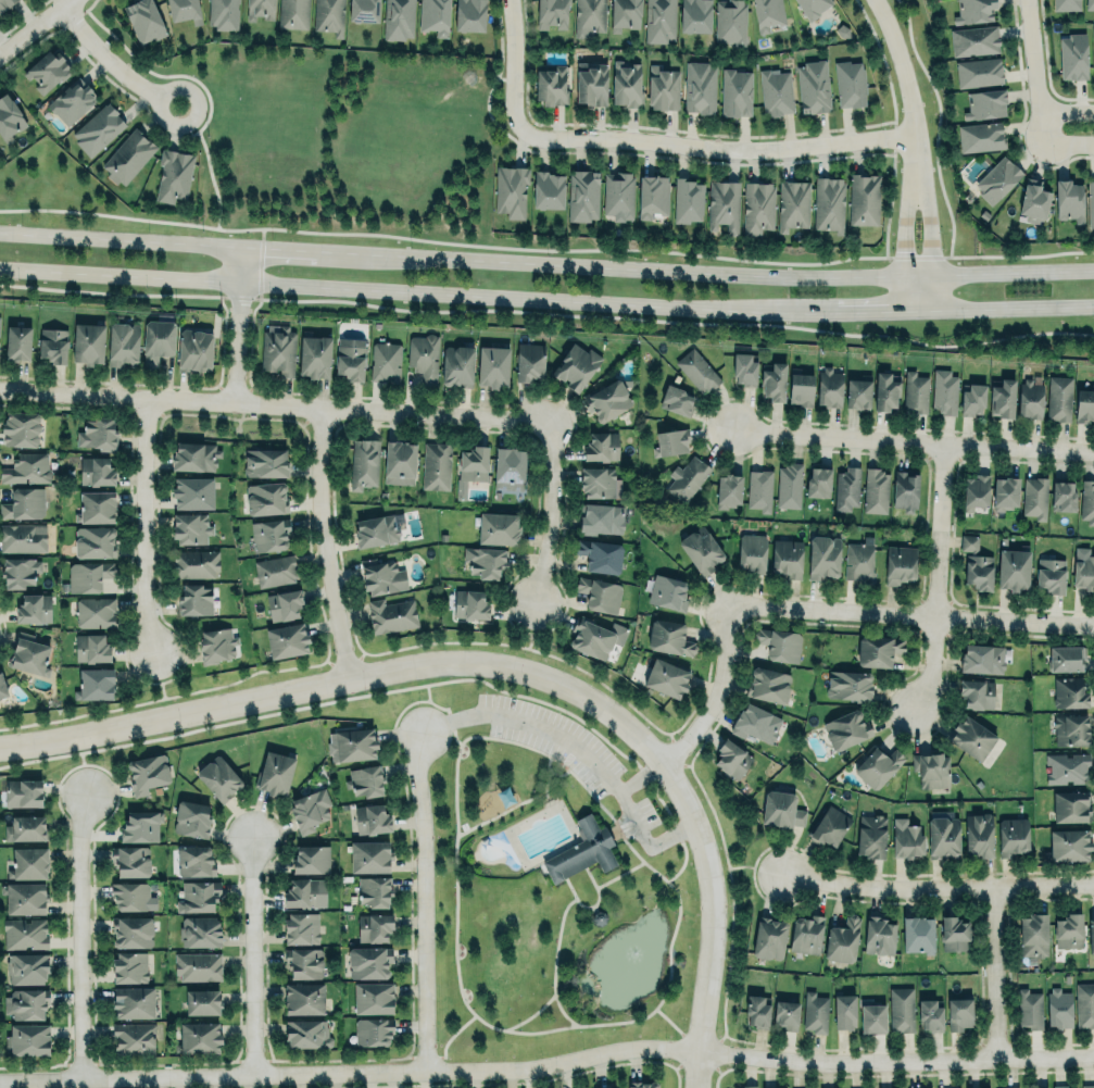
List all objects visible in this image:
building: (4, 3)
building: (1065, 3)
building: (1089, 4)
building: (812, 7)
building: (260, 9)
building: (184, 10)
building: (364, 10)
building: (972, 10)
building: (288, 12)
building: (551, 13)
building: (768, 13)
building: (223, 14)
building: (470, 14)
building: (625, 14)
building: (694, 15)
building: (328, 16)
building: (435, 16)
building: (589, 17)
building: (144, 20)
building: (394, 20)
building: (659, 21)
building: (731, 21)
road: (34, 26)
building: (973, 40)
building: (1072, 55)
road: (113, 64)
road: (512, 65)
road: (898, 65)
building: (46, 71)
building: (977, 71)
road: (1032, 71)
building: (1093, 71)
building: (592, 83)
building: (626, 83)
building: (851, 83)
building: (550, 85)
building: (663, 86)
building: (700, 86)
building: (813, 87)
building: (776, 91)
building: (735, 92)
building: (72, 99)
building: (985, 102)
road: (1066, 113)
building: (9, 116)
building: (98, 127)
building: (981, 135)
road: (1067, 141)
road: (716, 148)
building: (128, 155)
road: (210, 173)
building: (173, 174)
building: (997, 177)
building: (548, 189)
building: (511, 191)
building: (618, 192)
building: (582, 193)
building: (653, 195)
building: (864, 198)
building: (1034, 199)
building: (1069, 199)
building: (688, 200)
building: (829, 202)
building: (1091, 203)
building: (724, 204)
building: (793, 204)
building: (756, 205)
road: (927, 221)
road: (903, 222)
road: (546, 265)
road: (373, 289)
road: (1013, 308)
road: (840, 312)
road: (240, 326)
building: (158, 339)
building: (17, 341)
building: (51, 341)
building: (88, 341)
building: (121, 341)
building: (278, 348)
building: (194, 349)
building: (315, 355)
building: (424, 357)
building: (350, 358)
building: (529, 360)
building: (386, 361)
building: (492, 364)
building: (456, 365)
building: (576, 365)
building: (744, 368)
building: (696, 371)
building: (774, 382)
building: (829, 387)
building: (800, 389)
building: (885, 389)
building: (916, 390)
building: (945, 391)
building: (858, 392)
building: (1059, 397)
building: (972, 398)
building: (1003, 398)
building: (1030, 398)
building: (606, 399)
building: (676, 399)
building: (1084, 404)
road: (275, 405)
building: (20, 427)
building: (97, 432)
building: (670, 441)
road: (914, 441)
building: (601, 447)
building: (194, 454)
building: (362, 461)
building: (265, 462)
building: (399, 462)
building: (433, 464)
building: (26, 467)
building: (470, 467)
building: (508, 467)
building: (96, 470)
building: (687, 477)
building: (596, 480)
building: (818, 480)
building: (789, 485)
building: (846, 488)
building: (192, 489)
building: (728, 489)
building: (758, 490)
building: (875, 490)
building: (905, 490)
building: (976, 490)
building: (1006, 492)
building: (1064, 496)
building: (264, 497)
building: (1034, 497)
building: (23, 500)
building: (1086, 501)
building: (95, 504)
road: (552, 514)
building: (600, 517)
road: (146, 526)
building: (190, 527)
building: (499, 528)
building: (376, 529)
road: (936, 529)
building: (269, 534)
building: (23, 538)
building: (95, 540)
building: (968, 542)
road: (326, 543)
building: (701, 549)
building: (751, 552)
building: (600, 555)
building: (823, 556)
building: (787, 558)
building: (485, 560)
building: (194, 562)
building: (859, 562)
building: (900, 563)
building: (1013, 568)
building: (20, 570)
building: (1084, 570)
building: (275, 571)
building: (978, 571)
building: (89, 573)
building: (381, 575)
building: (1052, 575)
building: (667, 591)
building: (600, 593)
building: (194, 598)
building: (284, 604)
building: (470, 604)
building: (33, 608)
building: (95, 612)
road: (910, 613)
building: (391, 614)
road: (530, 626)
building: (595, 636)
building: (668, 637)
building: (286, 640)
building: (779, 643)
building: (216, 645)
building: (90, 647)
road: (526, 648)
building: (878, 649)
building: (28, 651)
building: (1066, 656)
building: (982, 658)
road: (929, 663)
road: (510, 670)
road: (159, 675)
building: (665, 676)
building: (96, 683)
building: (768, 685)
building: (848, 685)
building: (2, 686)
building: (1069, 691)
road: (715, 692)
building: (977, 692)
road: (175, 695)
building: (755, 722)
building: (846, 728)
building: (1070, 729)
building: (971, 737)
building: (351, 745)
road: (579, 751)
building: (730, 756)
building: (878, 765)
road: (83, 766)
building: (1067, 767)
building: (931, 770)
building: (148, 771)
building: (275, 772)
road: (549, 773)
road: (640, 776)
building: (218, 777)
building: (364, 780)
building: (23, 791)
building: (1070, 805)
building: (781, 809)
building: (309, 810)
road: (506, 810)
building: (192, 817)
building: (372, 818)
building: (140, 825)
building: (829, 826)
building: (26, 827)
building: (871, 835)
building: (979, 835)
building: (1013, 836)
building: (943, 837)
building: (906, 838)
building: (1069, 843)
building: (581, 851)
building: (369, 856)
building: (311, 858)
building: (130, 859)
building: (194, 860)
building: (29, 862)
road: (754, 868)
road: (617, 875)
road: (939, 887)
building: (375, 890)
building: (303, 891)
building: (131, 895)
building: (198, 896)
building: (25, 897)
road: (423, 901)
road: (729, 902)
road: (590, 905)
building: (374, 926)
building: (301, 927)
building: (200, 930)
building: (1069, 930)
building: (131, 931)
building: (25, 933)
building: (806, 934)
building: (917, 934)
building: (953, 934)
building: (879, 935)
building: (1091, 935)
building: (1033, 936)
road: (79, 937)
building: (769, 937)
building: (842, 939)
fountain: (632, 951)
road: (667, 951)
road: (251, 956)
building: (368, 961)
road: (552, 962)
building: (303, 963)
building: (129, 966)
building: (198, 966)
building: (27, 967)
road: (994, 973)
building: (303, 998)
building: (373, 998)
building: (133, 1001)
building: (201, 1001)
building: (27, 1002)
building: (1084, 1004)
building: (756, 1008)
building: (1059, 1008)
building: (901, 1009)
building: (1029, 1009)
building: (844, 1011)
building: (815, 1012)
building: (787, 1013)
building: (958, 1013)
building: (930, 1014)
road: (528, 1015)
building: (873, 1017)
building: (373, 1030)
road: (675, 1030)
building: (306, 1033)
building: (133, 1037)
building: (198, 1037)
road: (447, 1037)
building: (29, 1039)
road: (548, 1065)
building: (641, 1083)
building: (1059, 1086)
building: (1087, 1086)
building: (600, 1087)
building: (744, 1087)
building: (956, 1087)
building: (1011, 1087)

